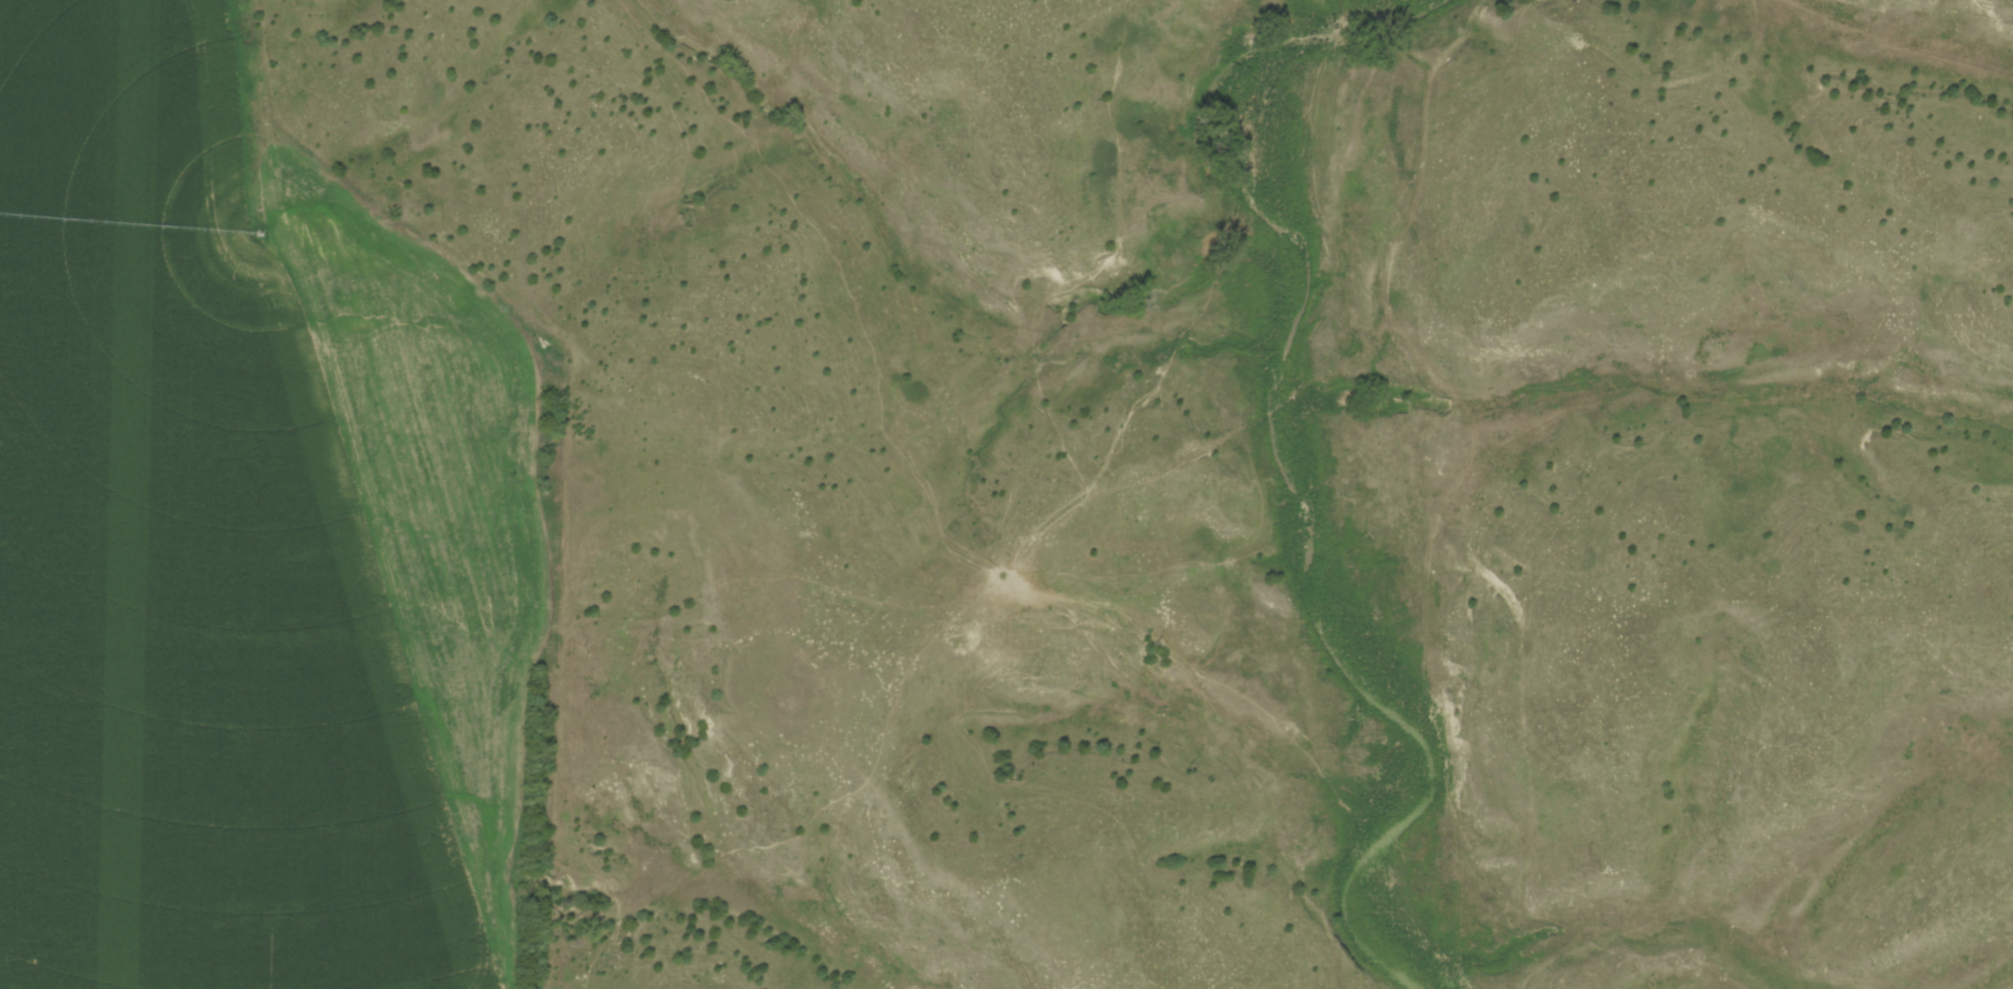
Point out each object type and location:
crop: (440, 496)
crop: (191, 561)

